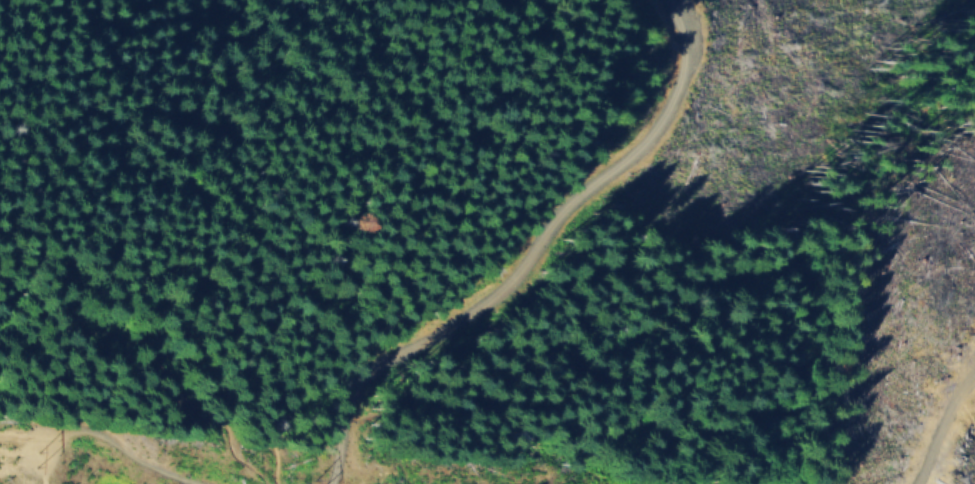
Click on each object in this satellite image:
power tower: (35, 461)

